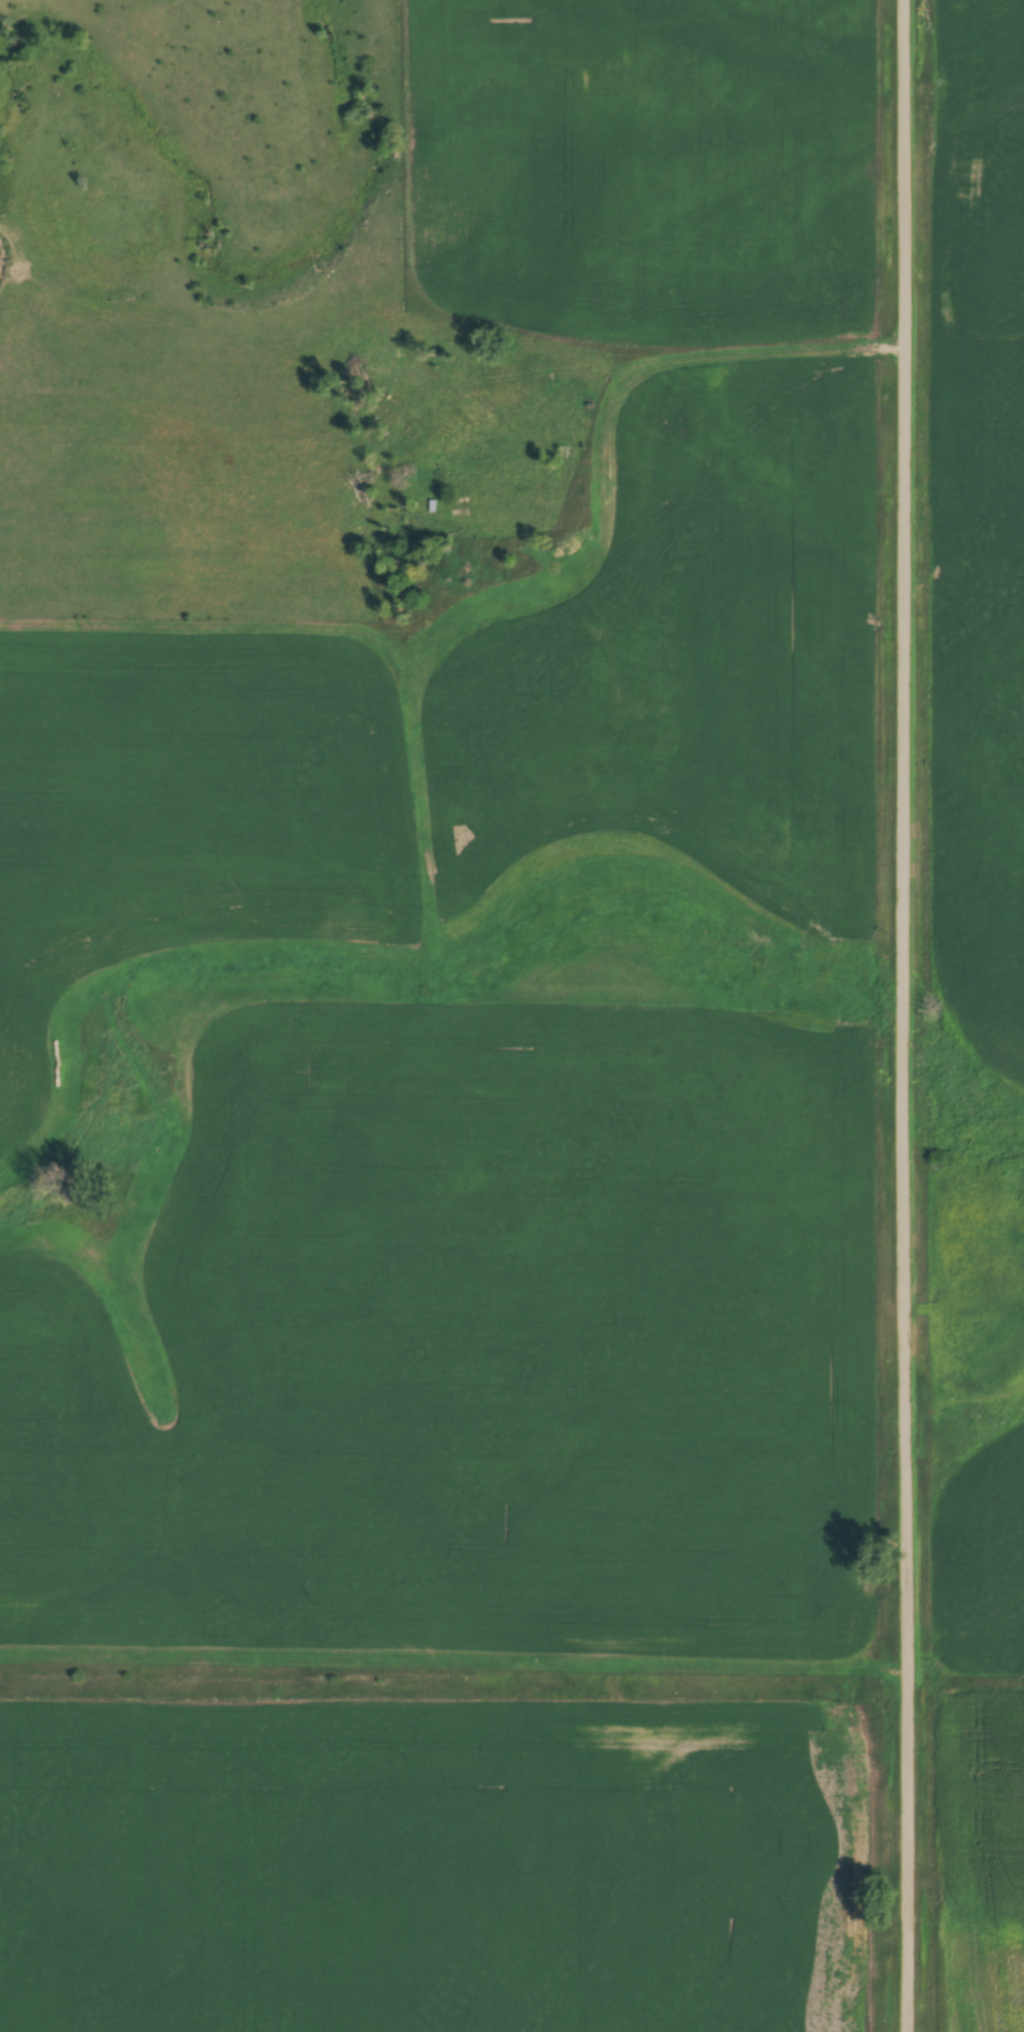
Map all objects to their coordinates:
road: (901, 1016)

